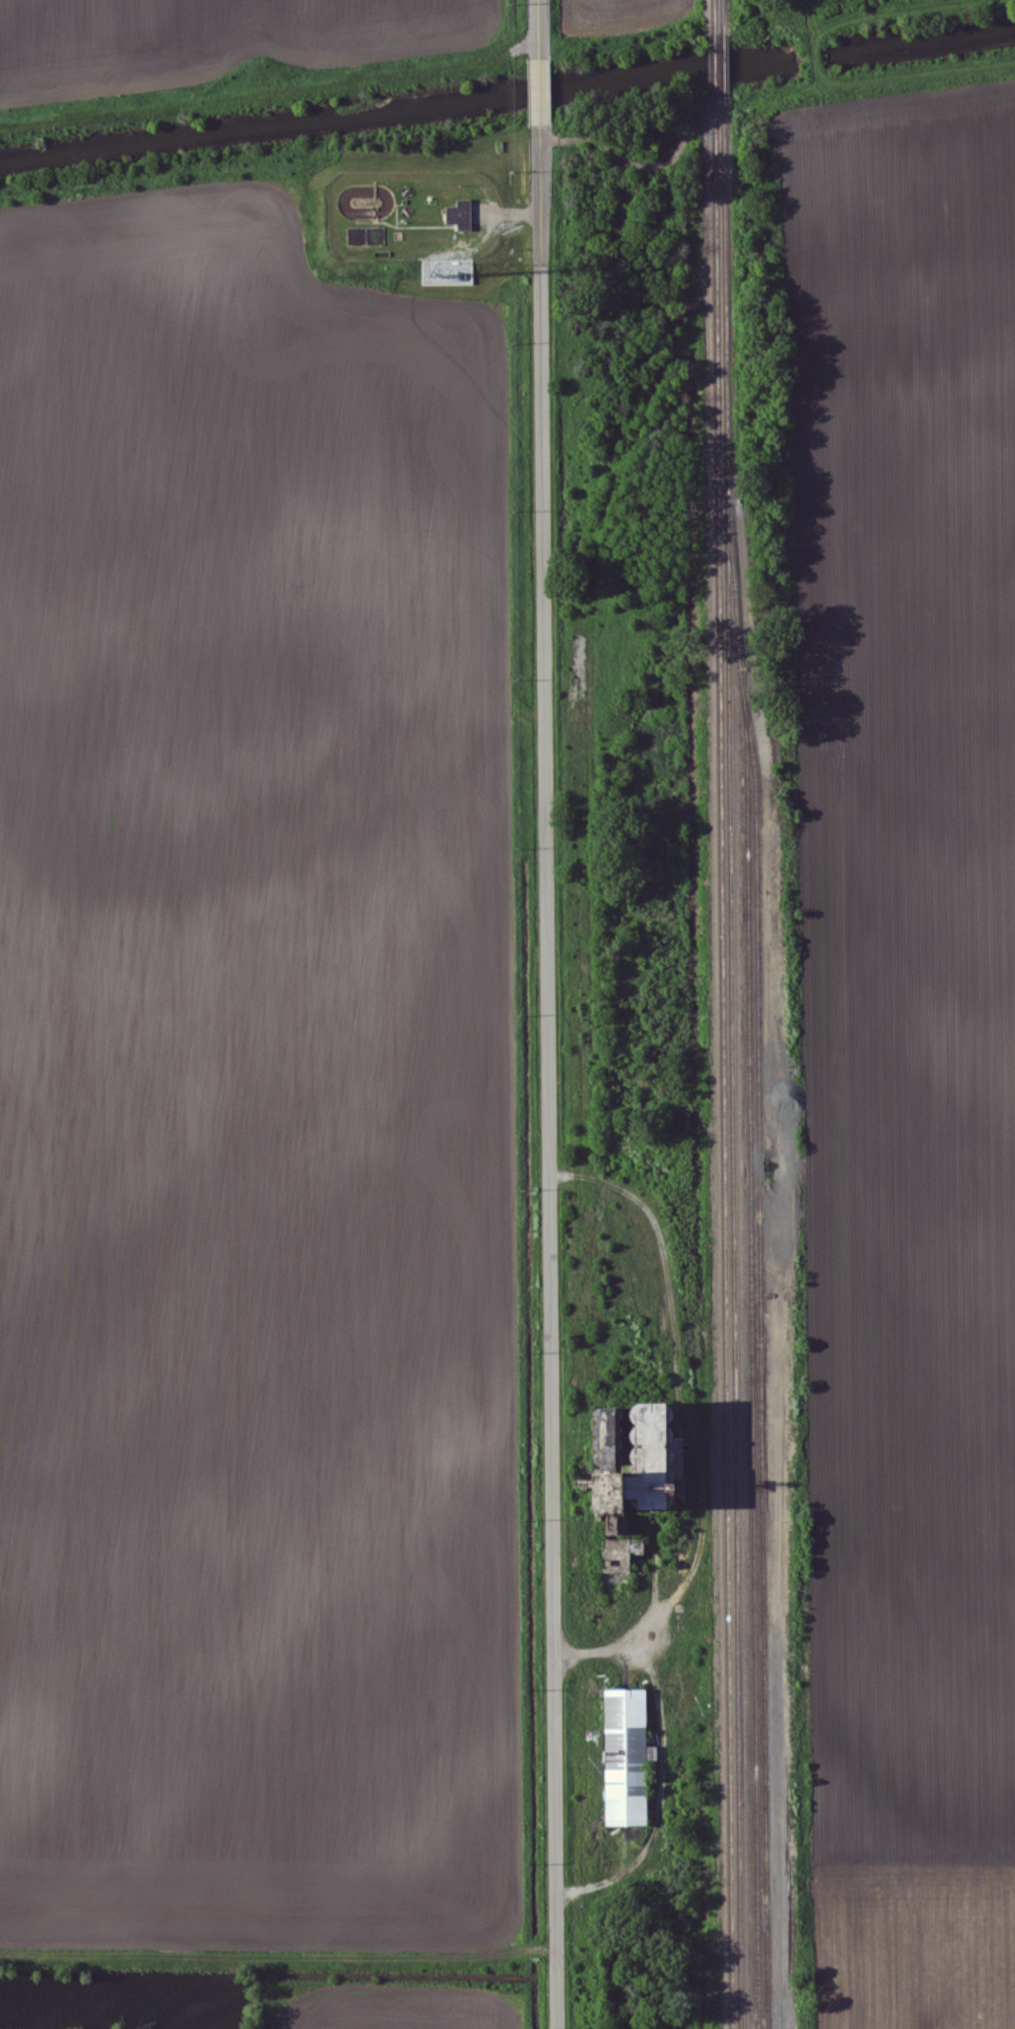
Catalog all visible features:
railway: (720, 7)
railway: (729, 7)
road: (539, 29)
railway: (730, 46)
railway: (721, 47)
road: (540, 90)
building: (457, 213)
road: (549, 639)
railway: (738, 1053)
railway: (729, 1054)
railway: (768, 1254)
railway: (760, 1354)
road: (687, 1402)
road: (560, 1593)
building: (625, 1759)
road: (667, 1777)

